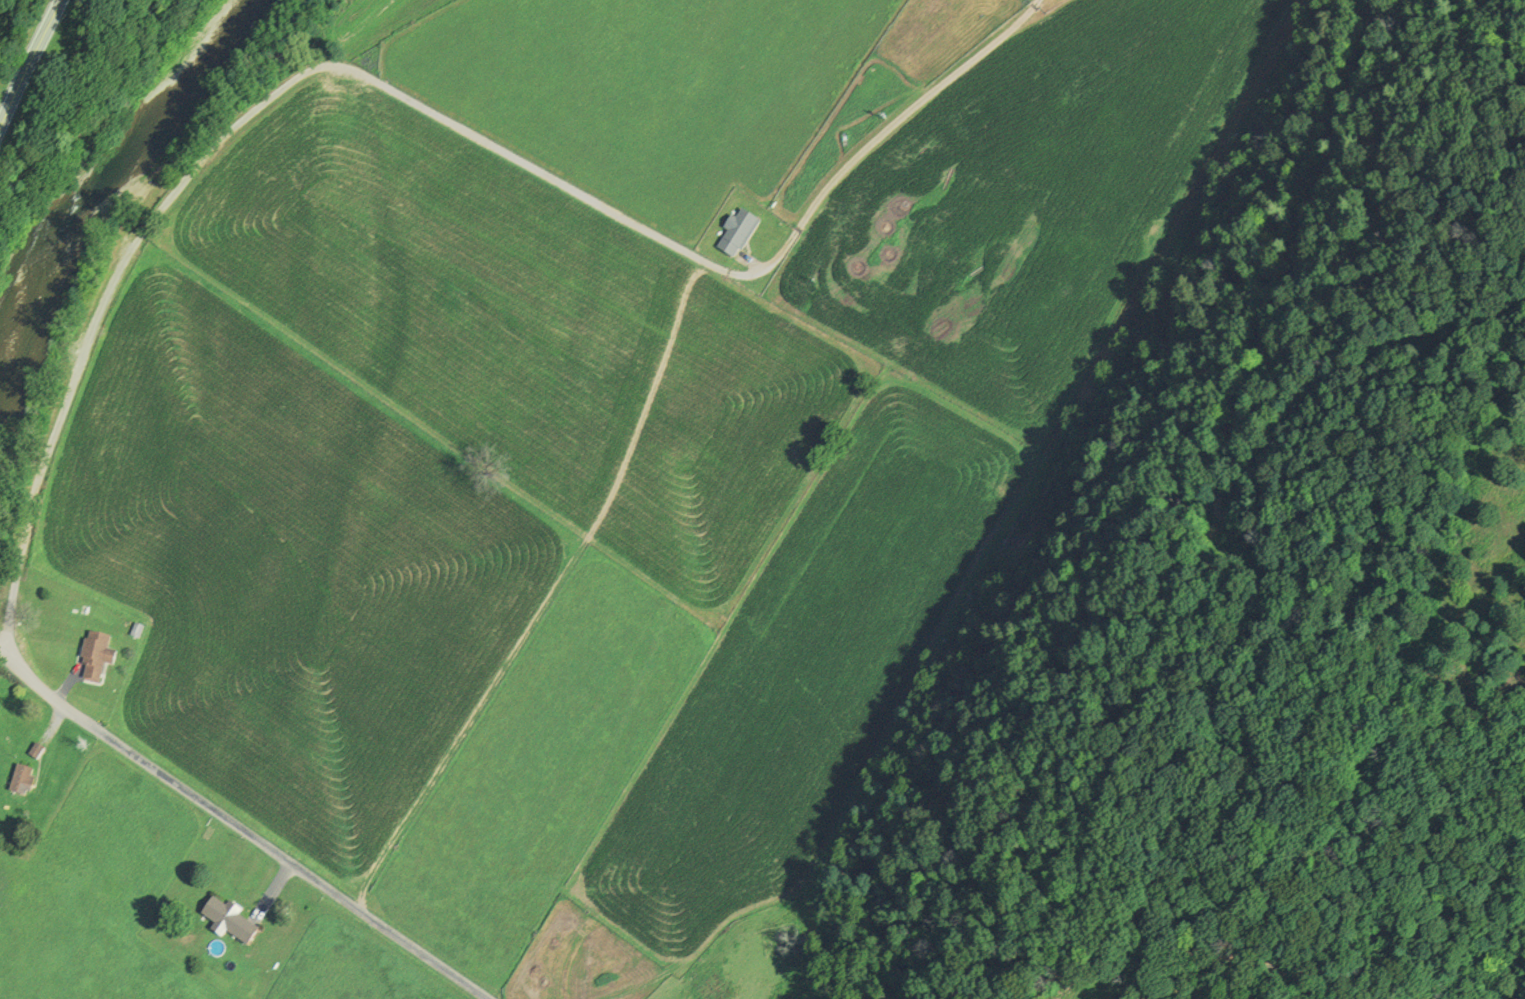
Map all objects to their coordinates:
road: (33, 69)
crop: (648, 90)
road: (408, 101)
river: (96, 194)
crop: (1027, 201)
building: (739, 235)
crop: (527, 333)
crop: (287, 573)
building: (99, 658)
crop: (800, 680)
road: (1302, 751)
building: (38, 753)
crop: (541, 770)
building: (25, 782)
road: (239, 828)
road: (273, 888)
crop: (98, 891)
building: (232, 920)
crop: (352, 965)

